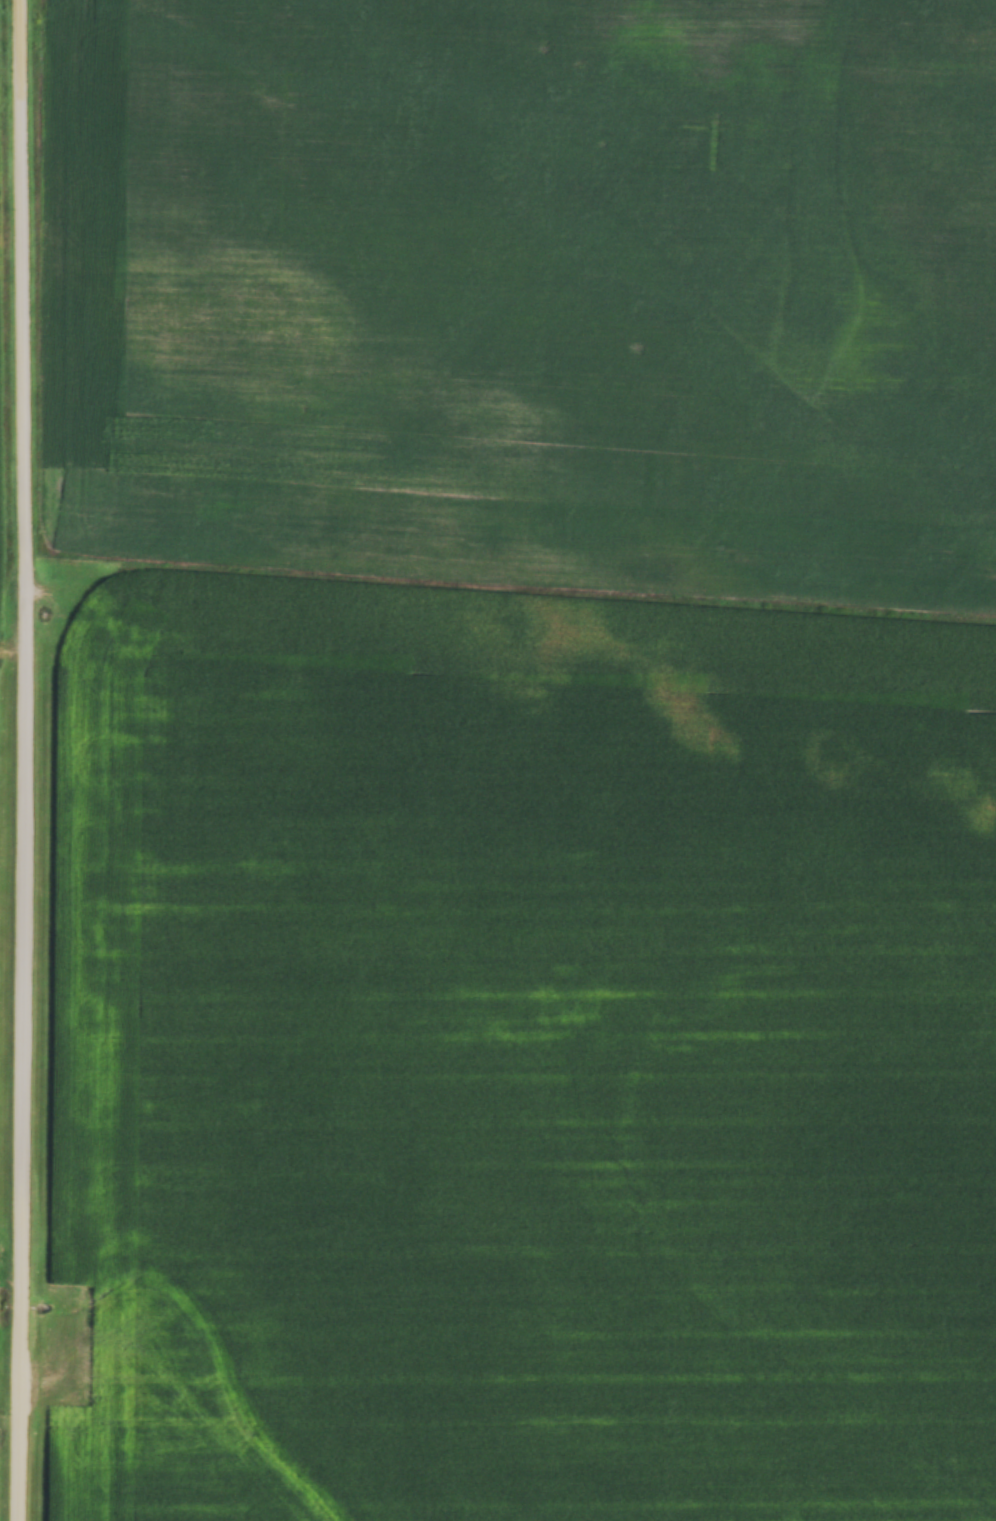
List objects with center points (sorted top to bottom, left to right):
road: (12, 648)
road: (23, 760)

